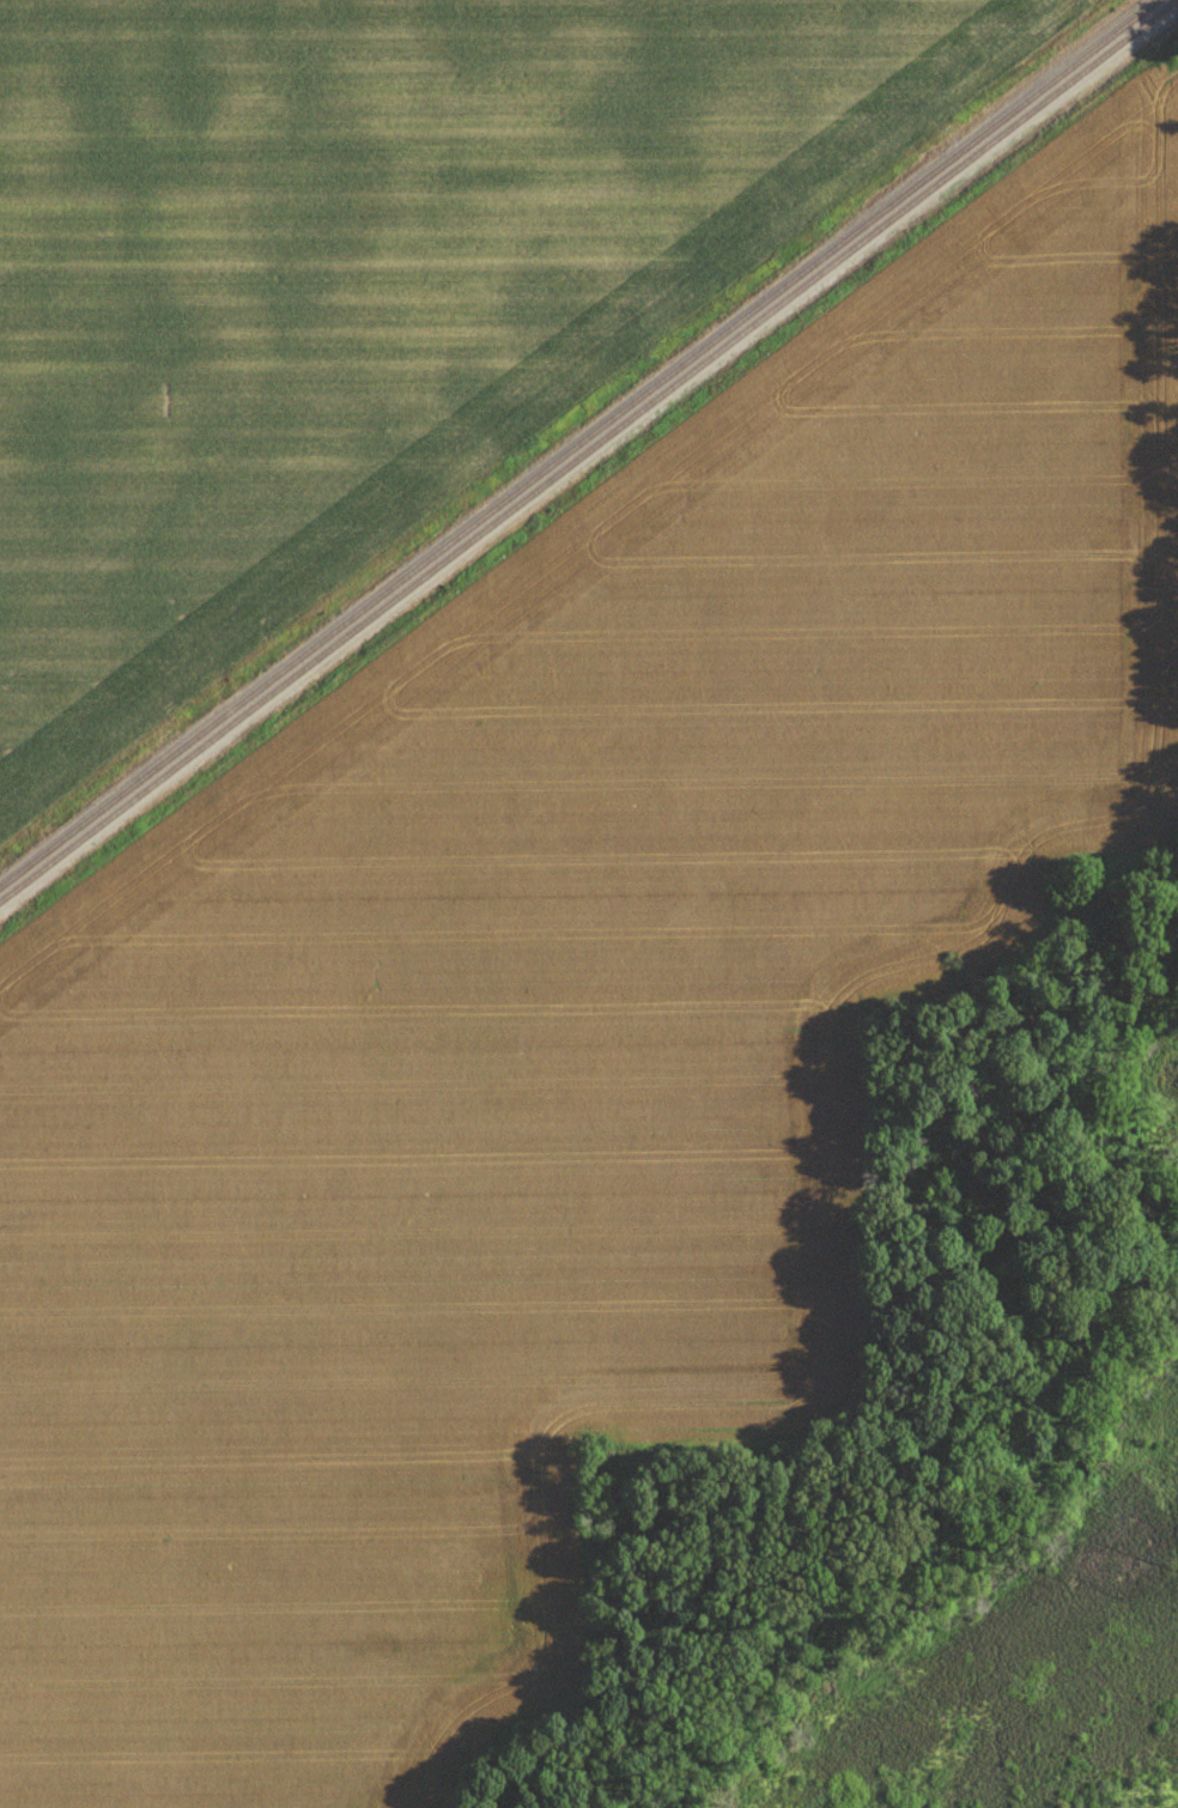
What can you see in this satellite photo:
railway: (582, 444)
railway: (589, 453)

